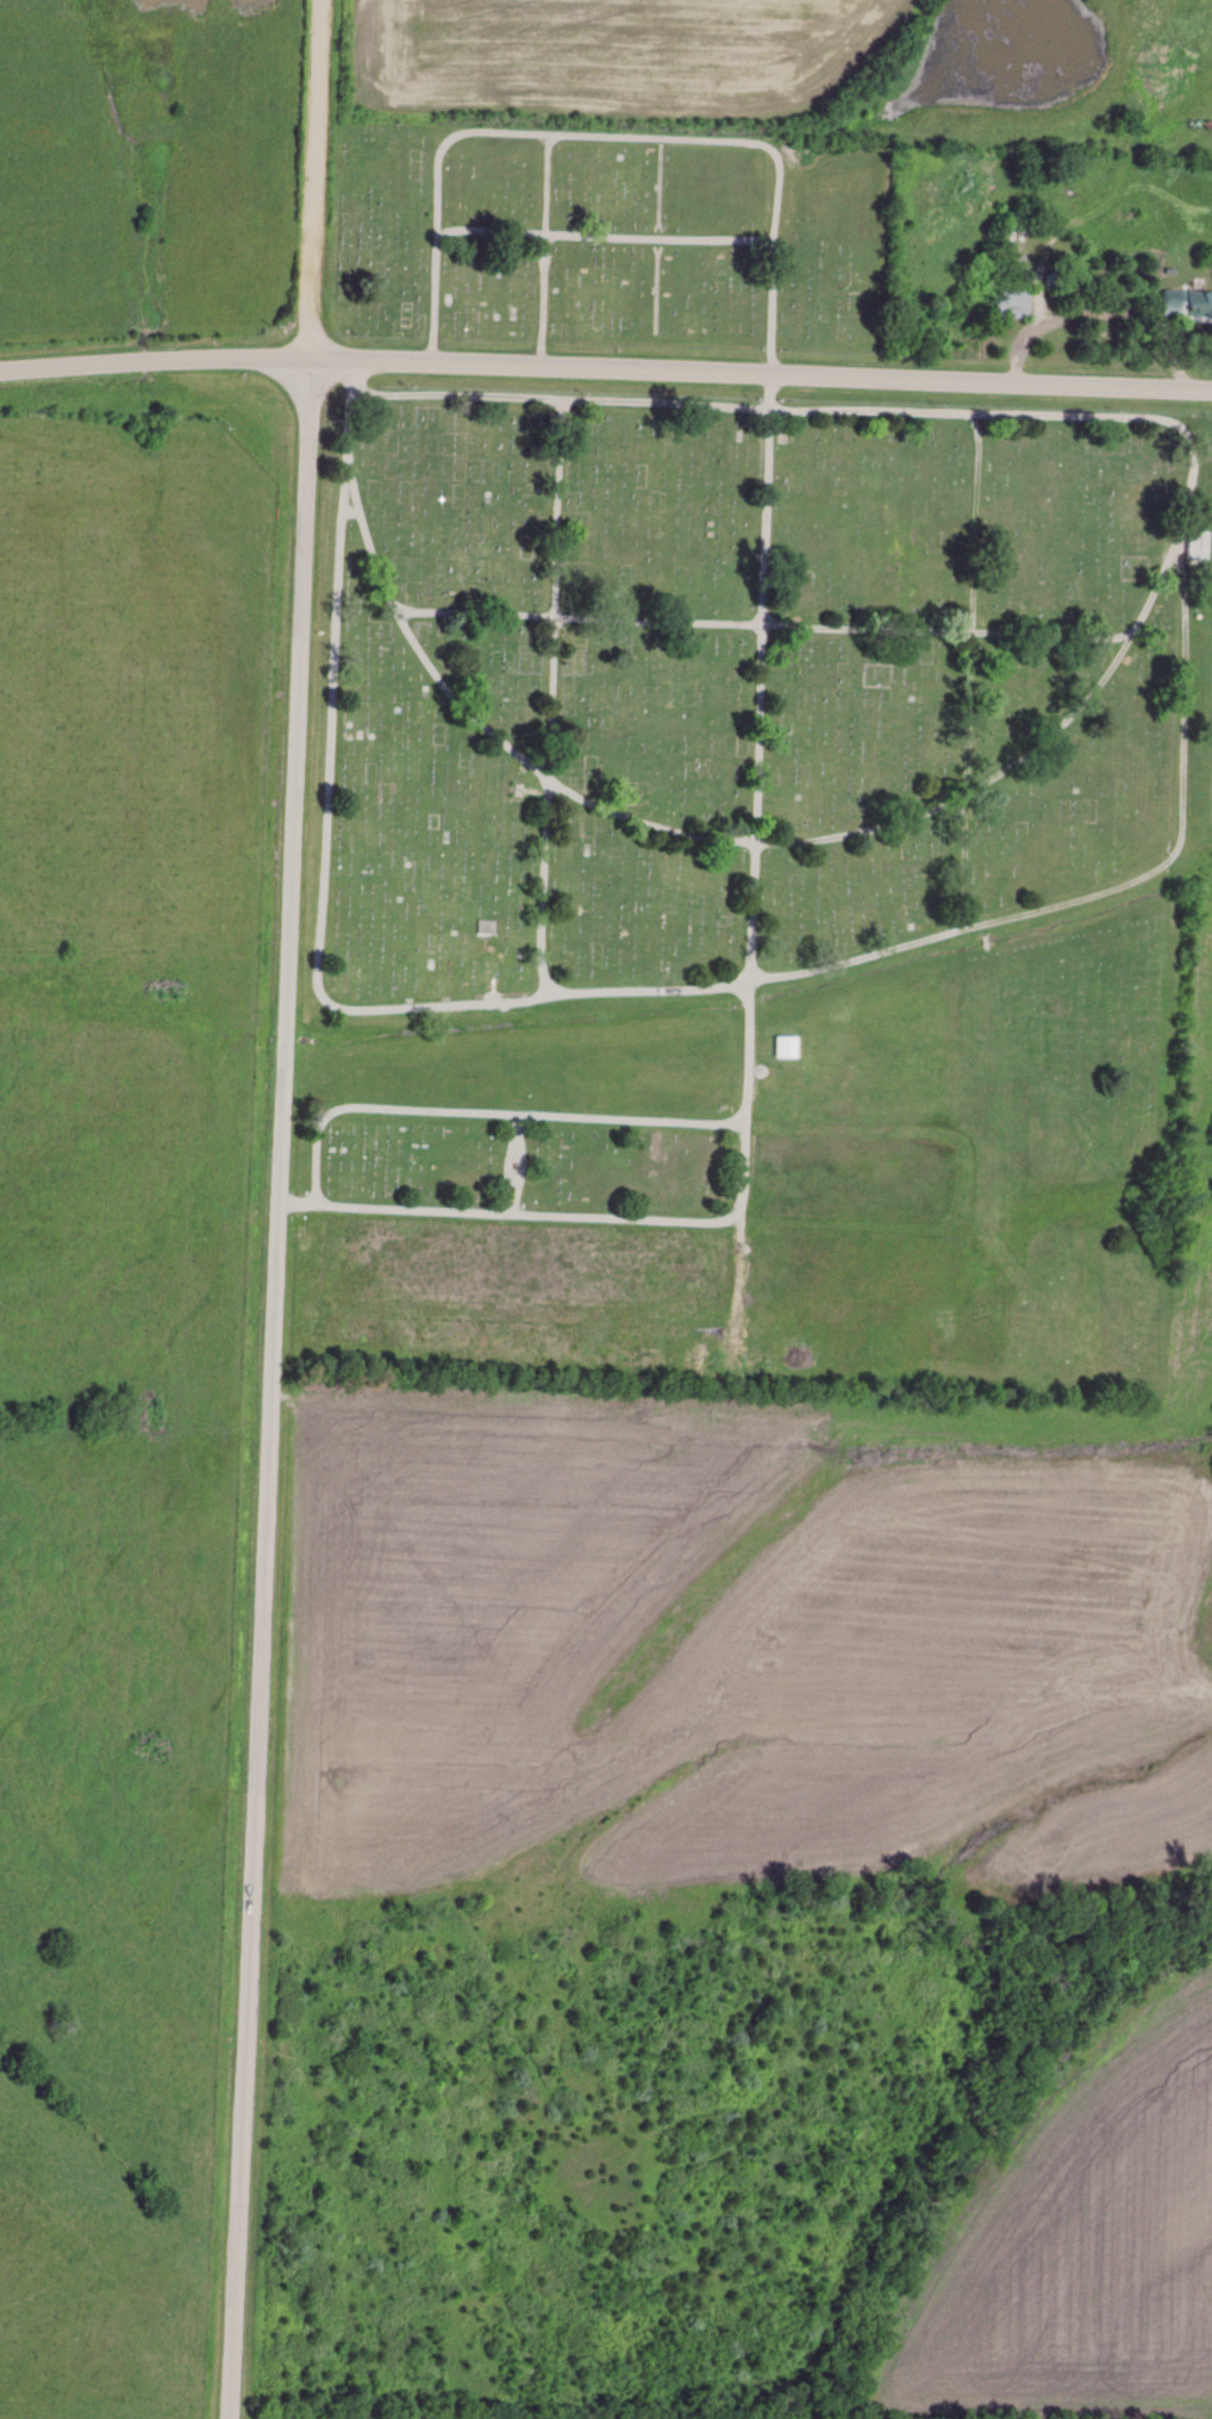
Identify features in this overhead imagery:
road: (319, 180)
building: (1006, 245)
building: (1010, 301)
building: (1185, 306)
road: (1077, 319)
road: (605, 369)
building: (1194, 547)
road: (764, 677)
road: (1110, 677)
park: (729, 805)
road: (656, 989)
building: (783, 1048)
road: (274, 1390)

